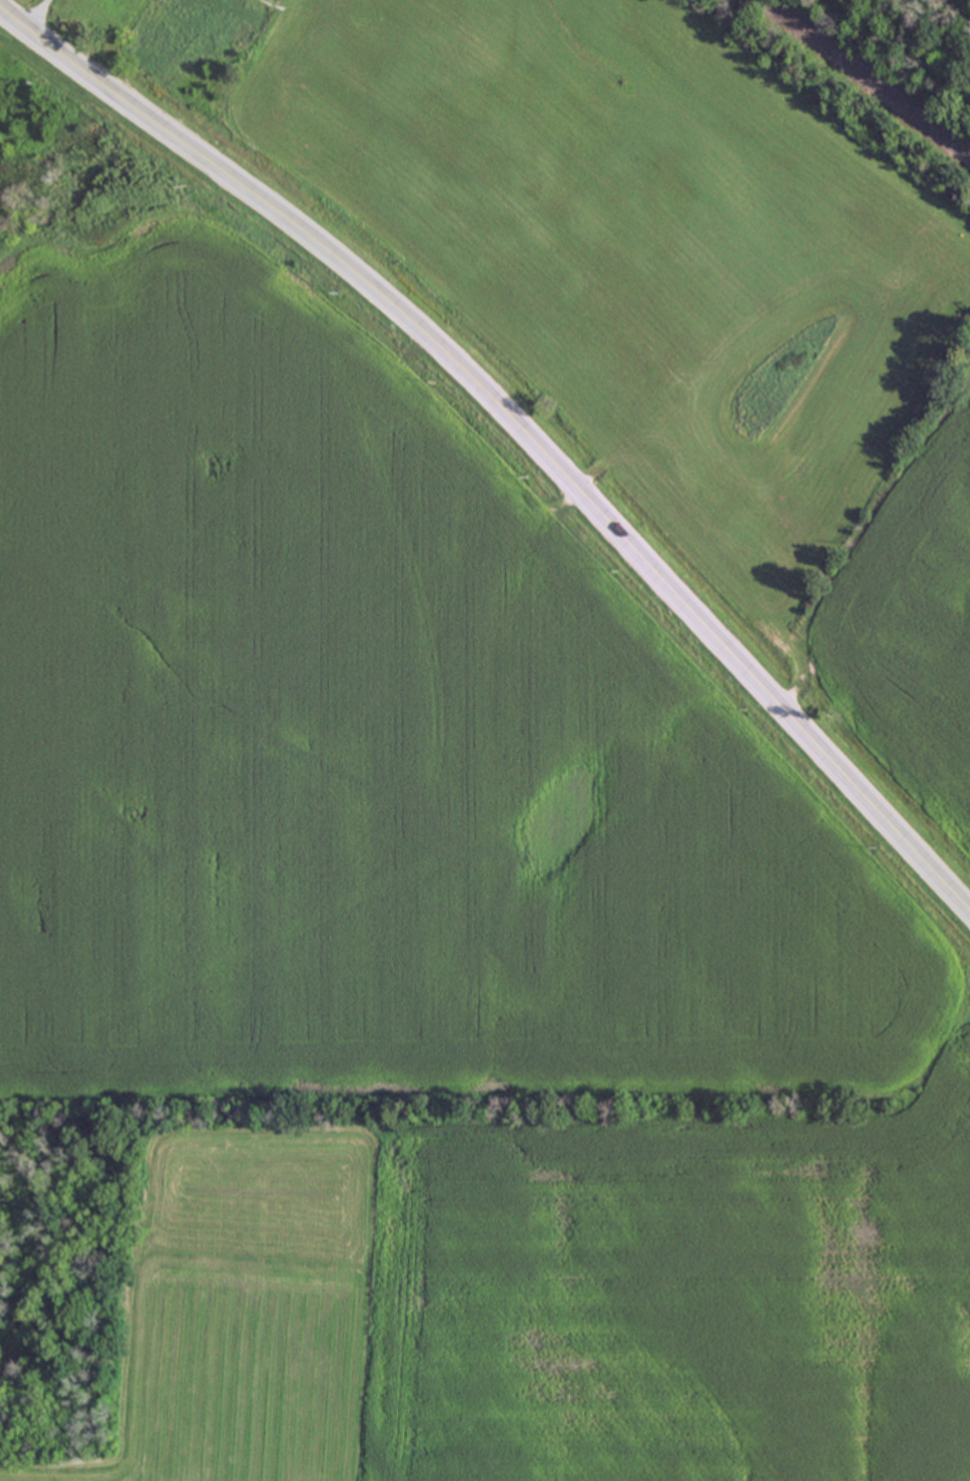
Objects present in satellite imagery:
road: (36, 14)
railway: (866, 79)
road: (515, 423)

